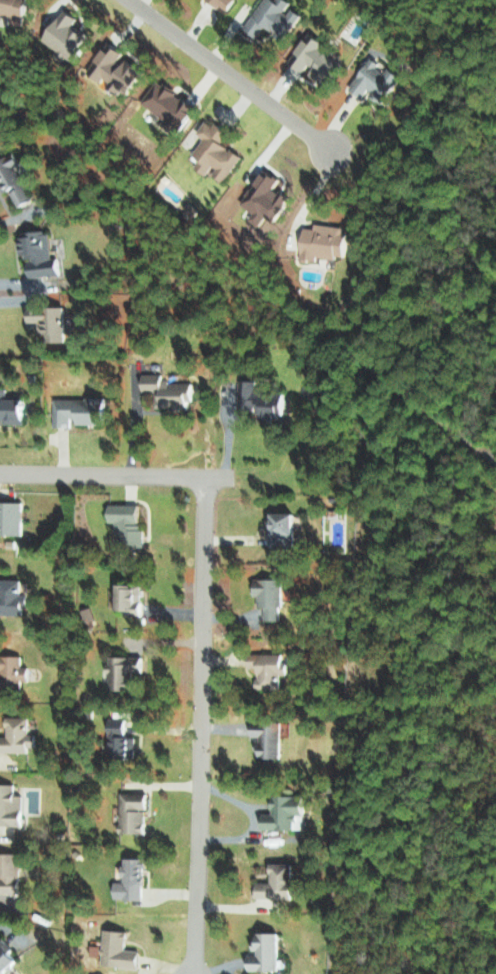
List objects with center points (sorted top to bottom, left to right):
building: (226, 3)
building: (15, 10)
building: (276, 17)
building: (71, 38)
building: (321, 59)
building: (119, 69)
road: (228, 77)
building: (377, 81)
building: (173, 107)
building: (217, 152)
building: (14, 179)
building: (194, 213)
building: (327, 241)
building: (43, 254)
building: (52, 321)
building: (171, 391)
building: (262, 398)
building: (14, 407)
building: (81, 411)
road: (182, 479)
building: (12, 517)
building: (129, 525)
building: (285, 530)
building: (12, 597)
building: (271, 597)
building: (133, 598)
building: (271, 668)
building: (126, 671)
building: (13, 672)
road: (211, 727)
building: (19, 736)
building: (270, 738)
building: (123, 739)
building: (11, 806)
building: (136, 812)
building: (287, 812)
building: (11, 873)
building: (134, 879)
building: (280, 882)
building: (121, 950)
building: (267, 952)
building: (8, 957)

